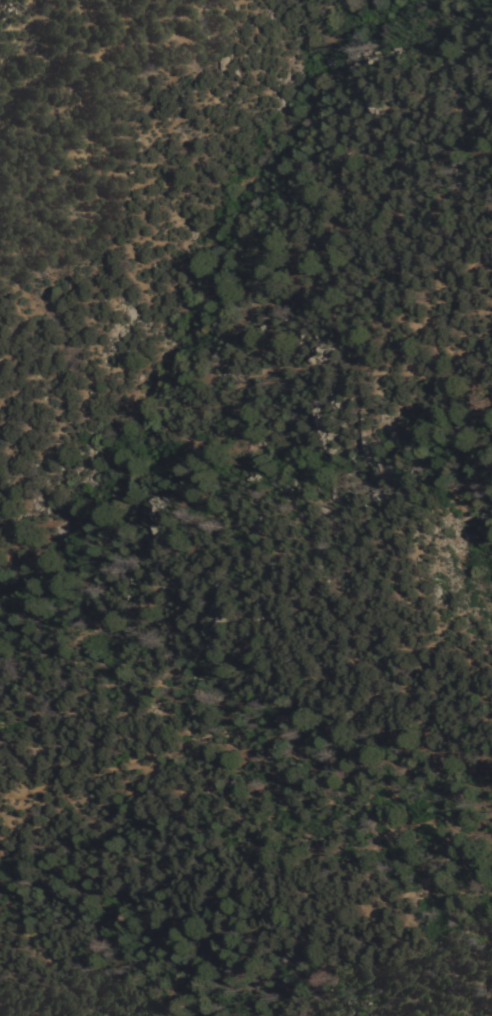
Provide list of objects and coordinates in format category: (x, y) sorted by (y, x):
road: (211, 798)

